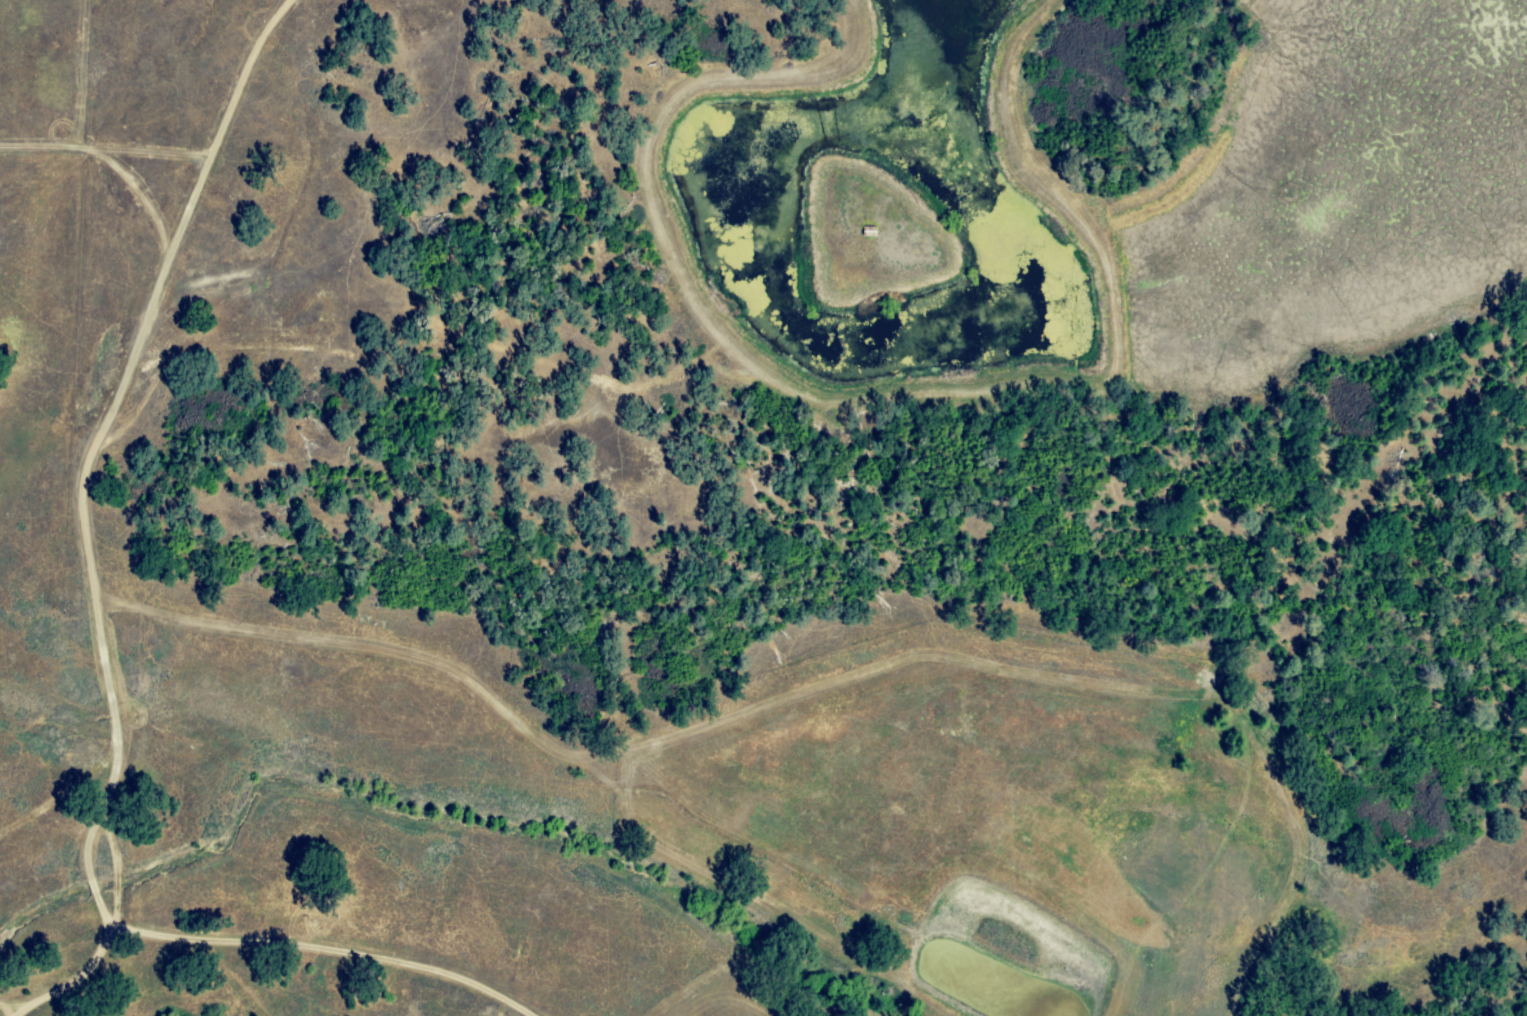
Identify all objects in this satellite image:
road: (1058, 3)
road: (103, 657)

